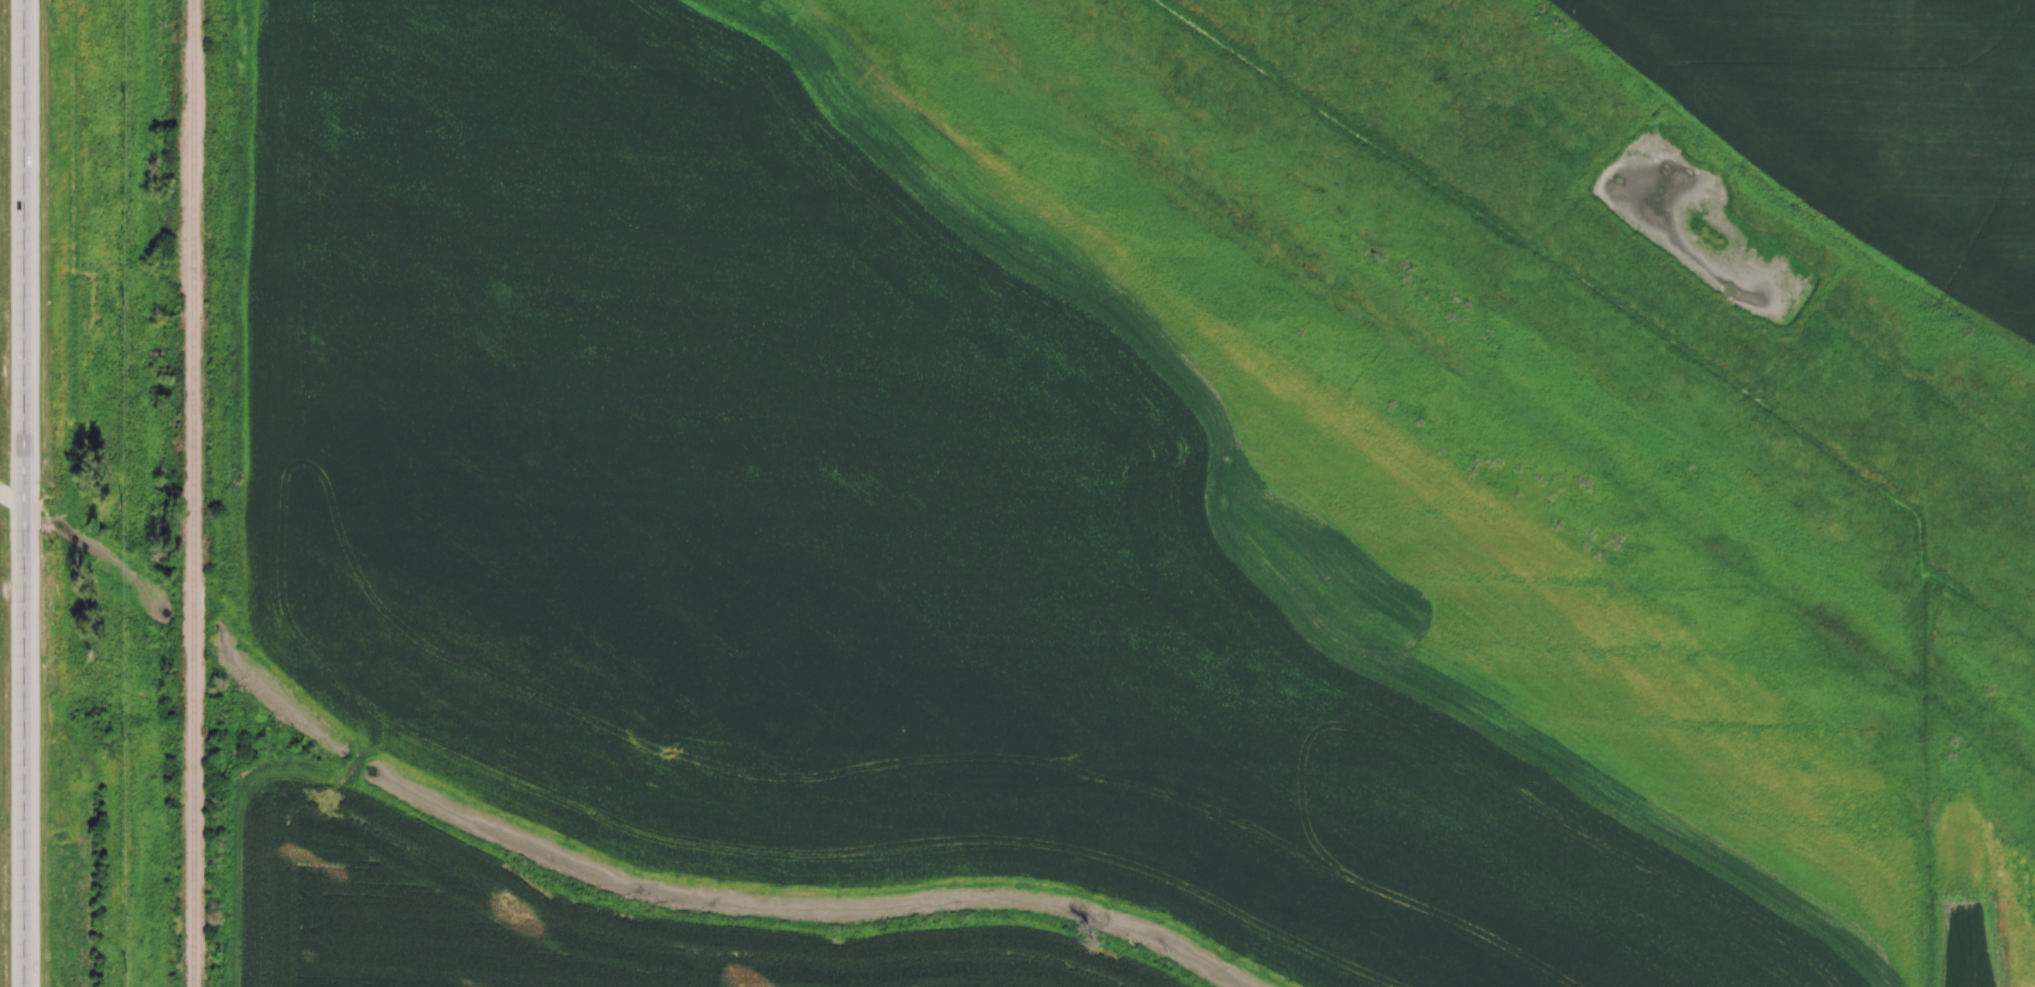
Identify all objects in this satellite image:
road: (24, 493)
railway: (194, 493)

